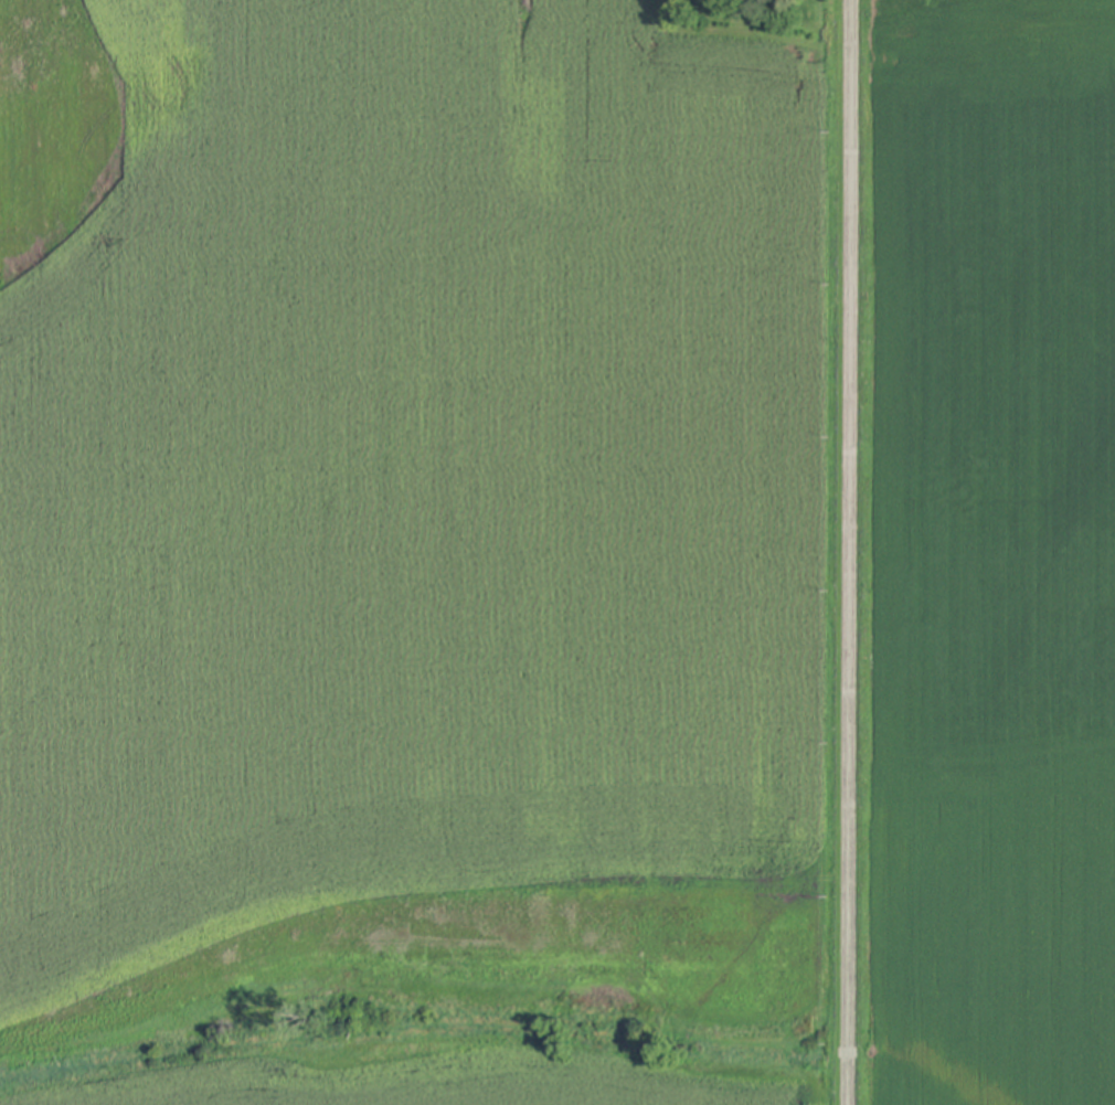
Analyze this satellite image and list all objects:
road: (848, 552)

